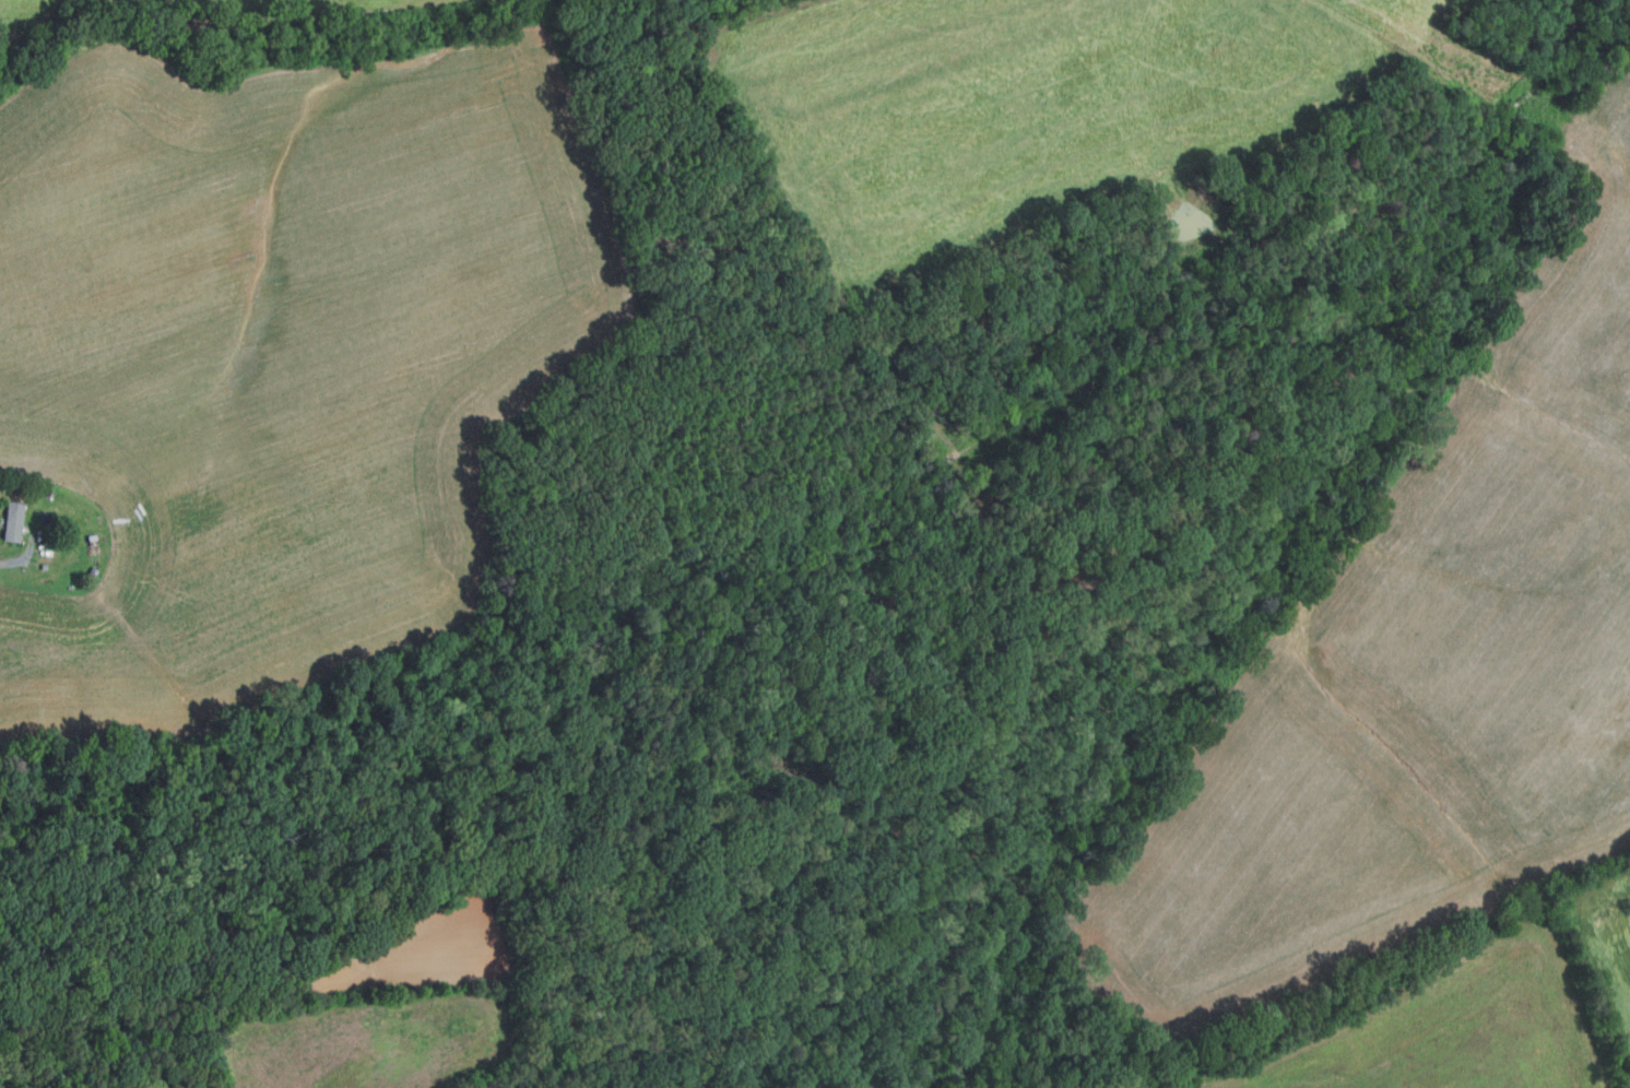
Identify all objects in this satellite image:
building: (12, 521)
building: (93, 545)
road: (23, 557)
crop: (1418, 669)

